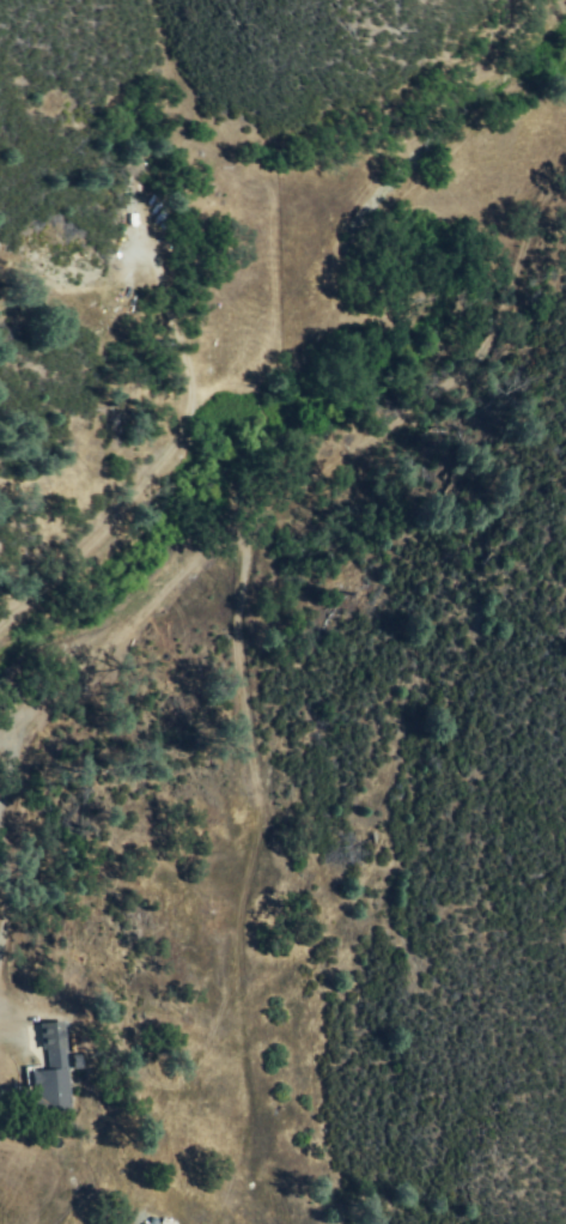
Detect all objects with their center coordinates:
road: (7, 878)
building: (51, 1074)

